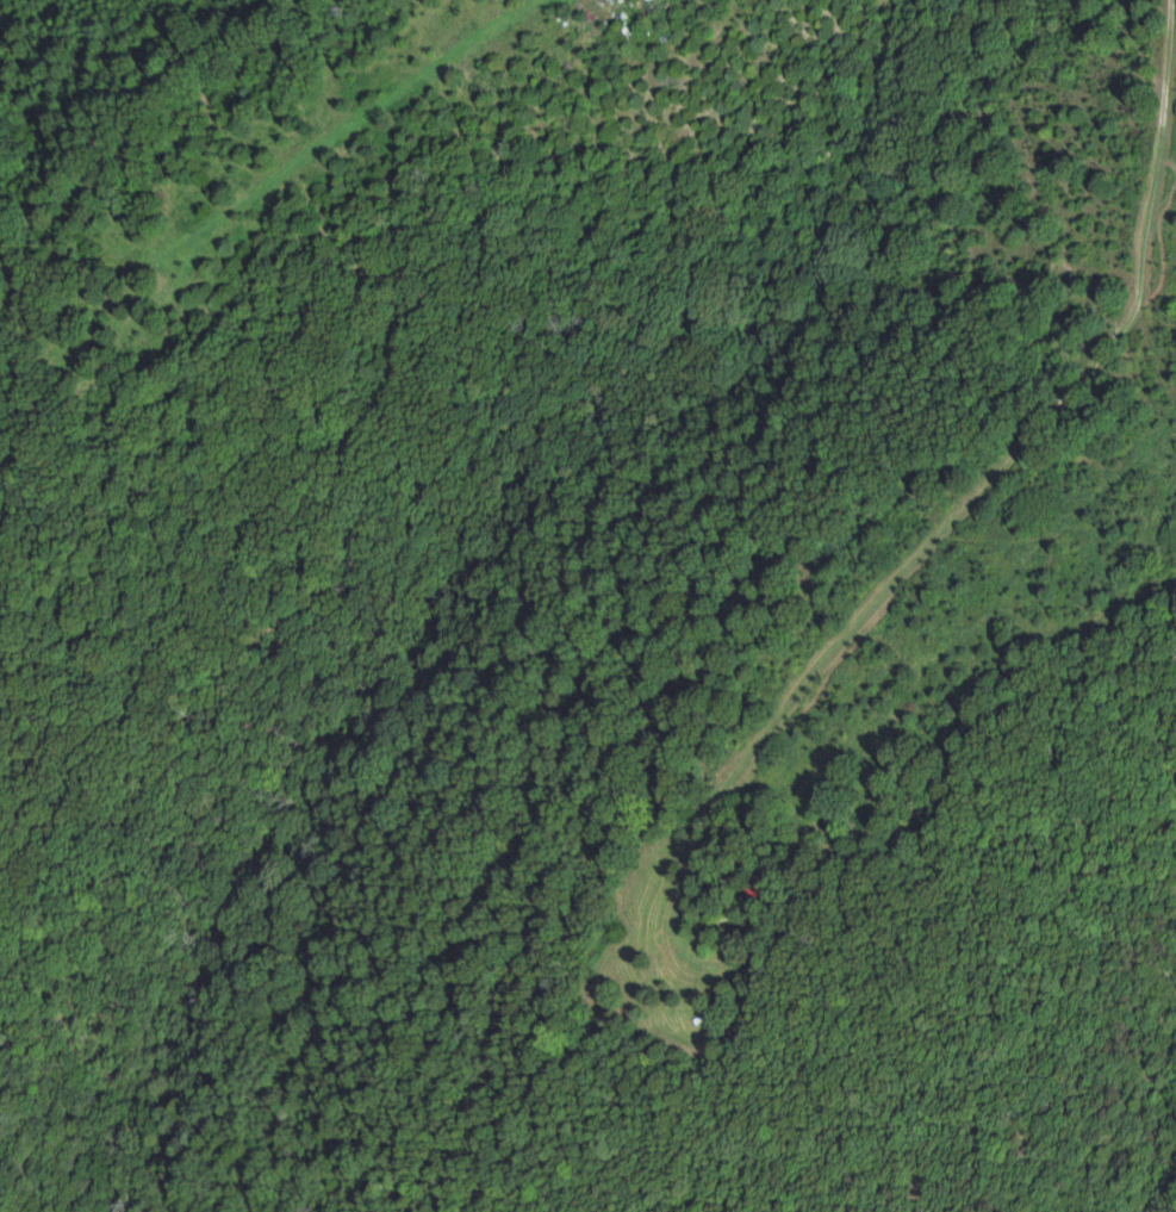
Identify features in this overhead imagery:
building: (646, 0)

